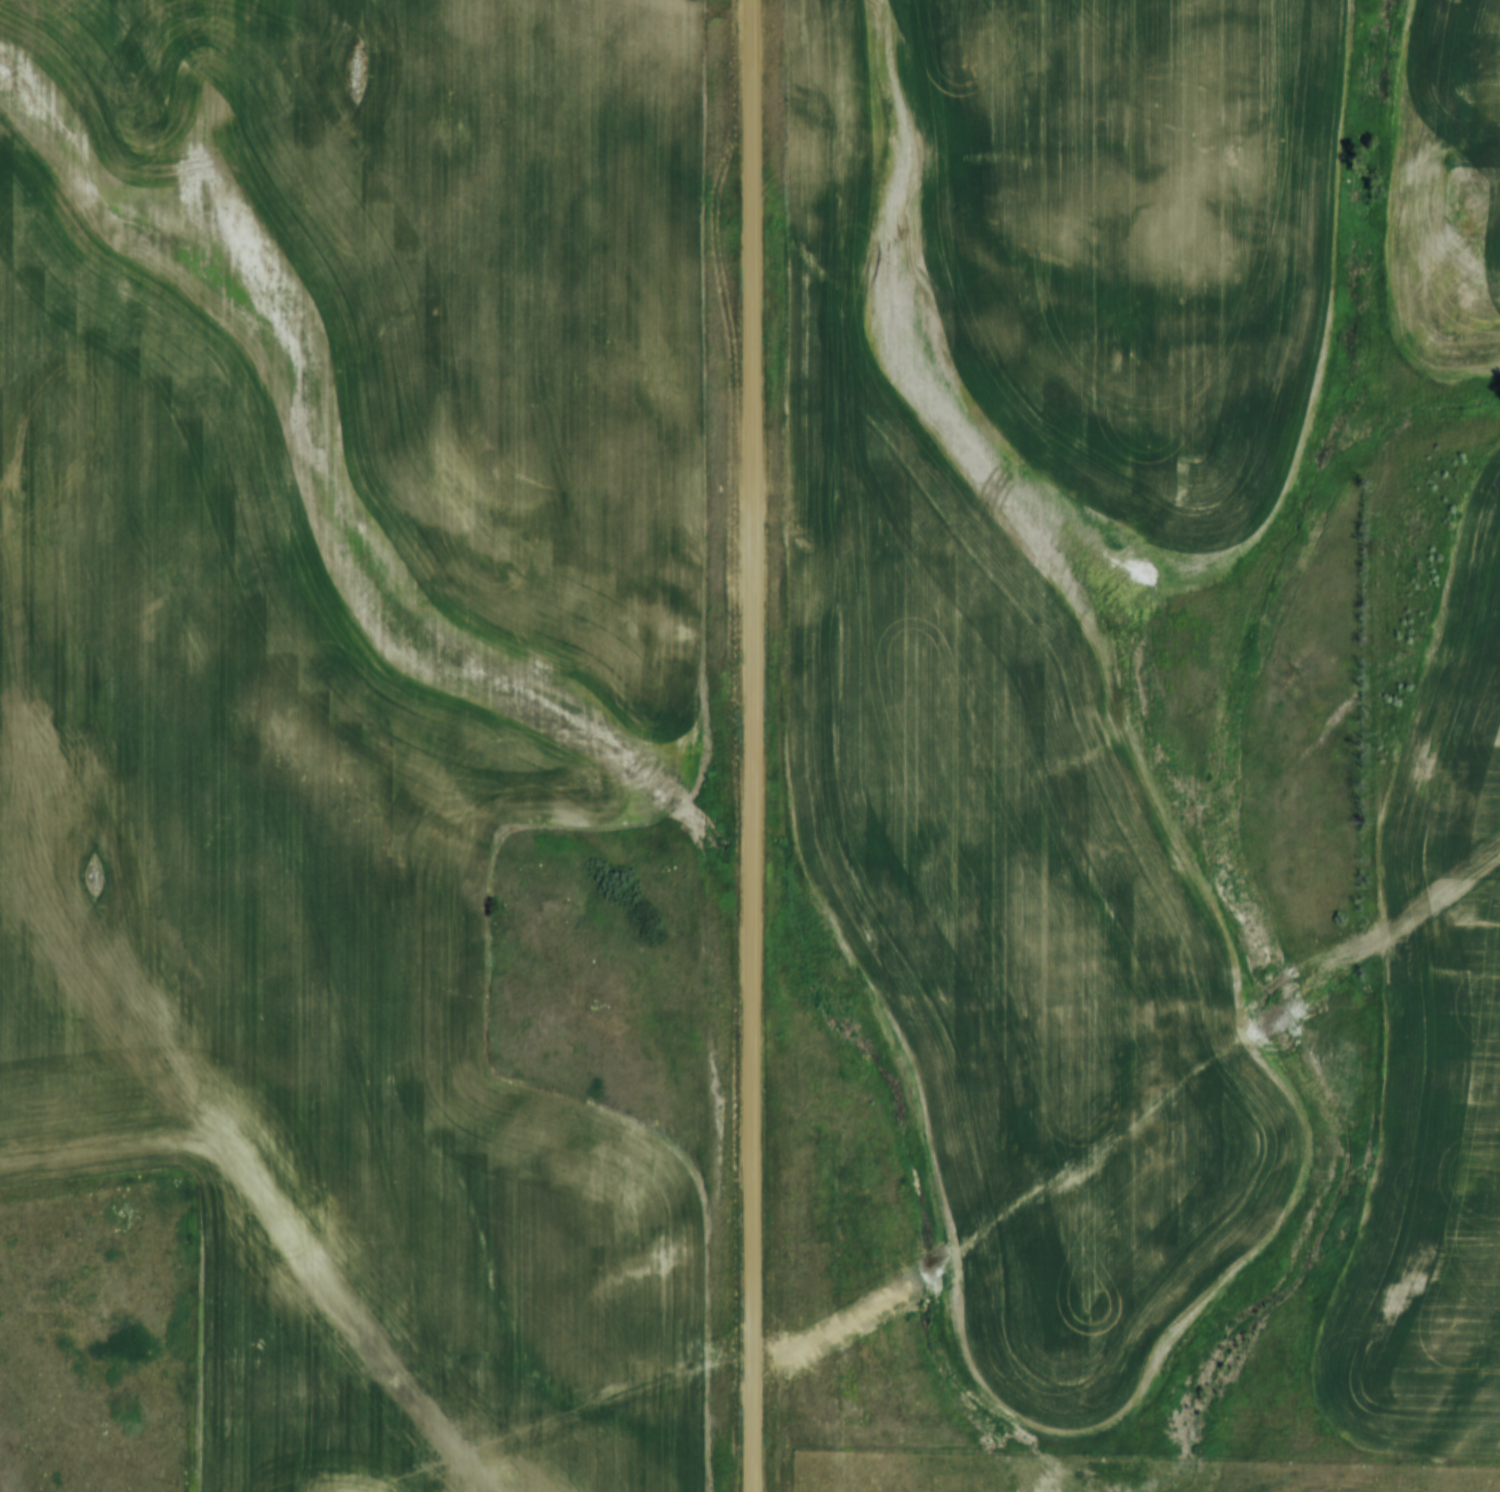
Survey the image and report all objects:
road: (753, 745)

